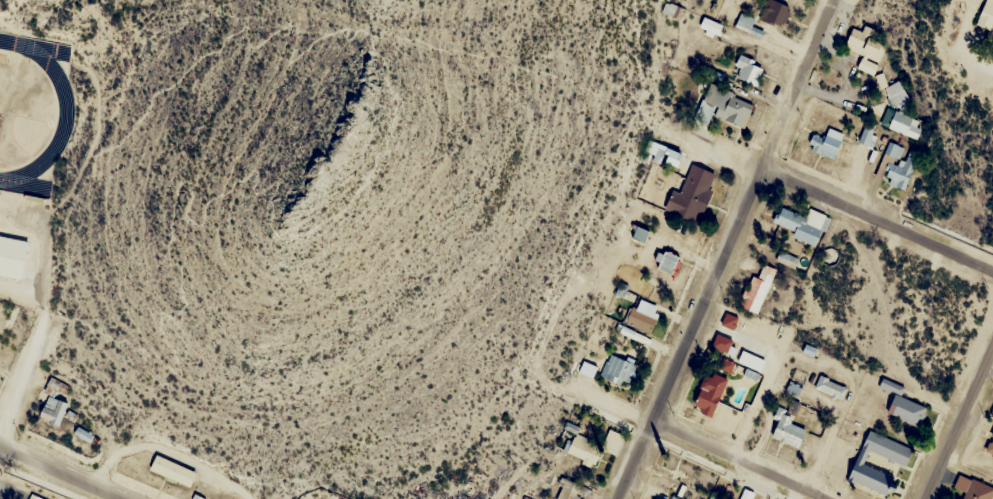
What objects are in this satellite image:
building: (775, 12)
building: (987, 18)
building: (744, 22)
building: (712, 27)
building: (865, 43)
road: (964, 45)
building: (749, 69)
building: (896, 93)
track: (28, 103)
building: (728, 105)
building: (904, 124)
building: (826, 143)
building: (655, 150)
building: (894, 151)
building: (673, 157)
building: (899, 171)
building: (692, 194)
road: (357, 197)
road: (880, 214)
building: (802, 224)
road: (727, 251)
building: (758, 287)
building: (641, 320)
building: (729, 321)
building: (722, 343)
building: (588, 365)
building: (618, 370)
road: (24, 376)
building: (830, 387)
building: (709, 393)
building: (53, 404)
building: (903, 404)
road: (959, 420)
building: (787, 430)
building: (612, 442)
building: (989, 446)
building: (582, 450)
building: (897, 457)
road: (738, 461)
building: (173, 470)
road: (59, 472)
building: (973, 488)
building: (566, 493)
building: (36, 497)
building: (674, 498)

